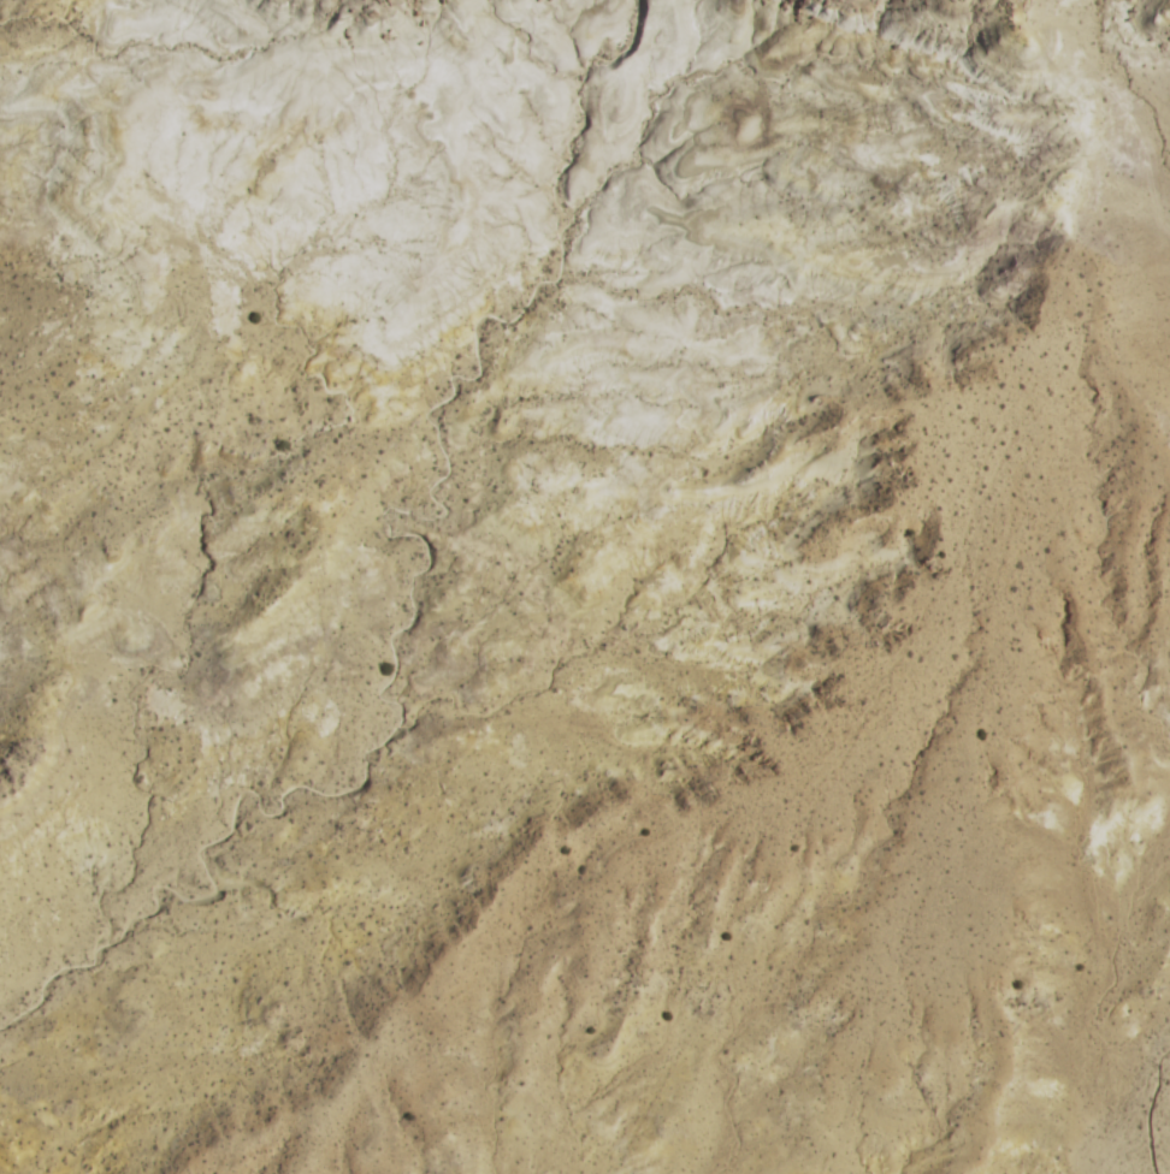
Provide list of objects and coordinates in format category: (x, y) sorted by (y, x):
road: (1036, 1103)

